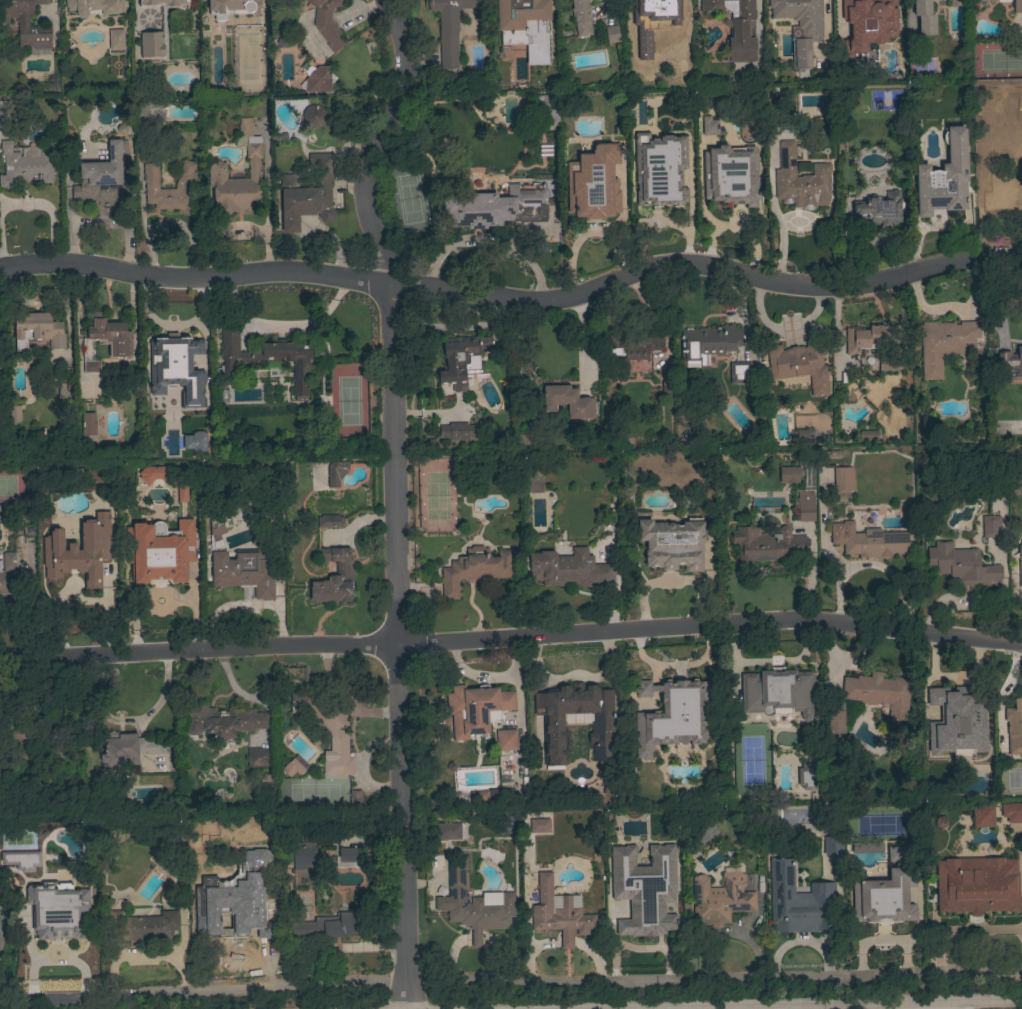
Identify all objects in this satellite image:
building: (985, 0)
building: (955, 3)
building: (1017, 6)
building: (94, 7)
building: (231, 8)
building: (865, 14)
building: (581, 17)
building: (924, 17)
building: (164, 20)
building: (675, 20)
building: (26, 23)
building: (327, 23)
building: (525, 26)
building: (800, 26)
building: (449, 27)
building: (736, 28)
building: (612, 34)
building: (116, 40)
building: (319, 80)
building: (4, 109)
building: (547, 110)
building: (313, 116)
building: (708, 127)
building: (683, 135)
building: (990, 138)
building: (24, 167)
building: (216, 171)
building: (105, 177)
building: (944, 178)
building: (801, 181)
building: (593, 183)
building: (662, 185)
building: (726, 185)
building: (183, 187)
building: (1003, 190)
building: (307, 194)
building: (493, 206)
building: (879, 209)
road: (515, 299)
building: (37, 330)
building: (110, 335)
building: (867, 337)
building: (708, 343)
building: (944, 344)
building: (634, 345)
building: (460, 357)
building: (267, 359)
building: (800, 363)
building: (888, 363)
building: (173, 364)
building: (1009, 365)
building: (91, 367)
building: (740, 373)
building: (666, 390)
building: (567, 401)
building: (200, 408)
building: (14, 415)
building: (89, 424)
building: (458, 431)
building: (868, 435)
building: (801, 439)
building: (191, 442)
building: (519, 442)
building: (829, 455)
building: (336, 473)
building: (155, 474)
building: (787, 476)
building: (843, 479)
building: (533, 485)
road: (397, 495)
building: (270, 507)
building: (806, 512)
building: (329, 521)
building: (990, 526)
building: (216, 531)
building: (79, 540)
building: (868, 541)
building: (673, 544)
building: (767, 544)
building: (159, 551)
building: (1020, 564)
building: (961, 565)
building: (475, 569)
building: (569, 569)
building: (7, 572)
building: (243, 574)
building: (334, 577)
road: (511, 637)
building: (677, 691)
building: (777, 692)
building: (879, 692)
building: (476, 709)
building: (835, 718)
building: (960, 720)
building: (224, 723)
building: (602, 727)
building: (1014, 727)
building: (326, 728)
building: (21, 732)
building: (506, 740)
building: (714, 743)
building: (127, 749)
building: (226, 749)
building: (257, 757)
building: (297, 765)
building: (804, 778)
building: (609, 785)
building: (478, 796)
building: (355, 801)
building: (1012, 812)
building: (982, 816)
building: (790, 819)
building: (540, 826)
building: (448, 831)
building: (622, 844)
building: (833, 846)
building: (303, 855)
building: (347, 855)
building: (890, 855)
building: (18, 861)
building: (168, 866)
building: (11, 875)
building: (977, 885)
building: (200, 888)
building: (720, 899)
building: (799, 902)
building: (474, 904)
building: (640, 904)
building: (881, 908)
building: (54, 910)
building: (559, 913)
building: (239, 916)
building: (142, 926)
building: (329, 926)
building: (61, 931)
road: (510, 983)
road: (986, 1003)
road: (927, 1004)
road: (828, 1007)
road: (905, 1007)

